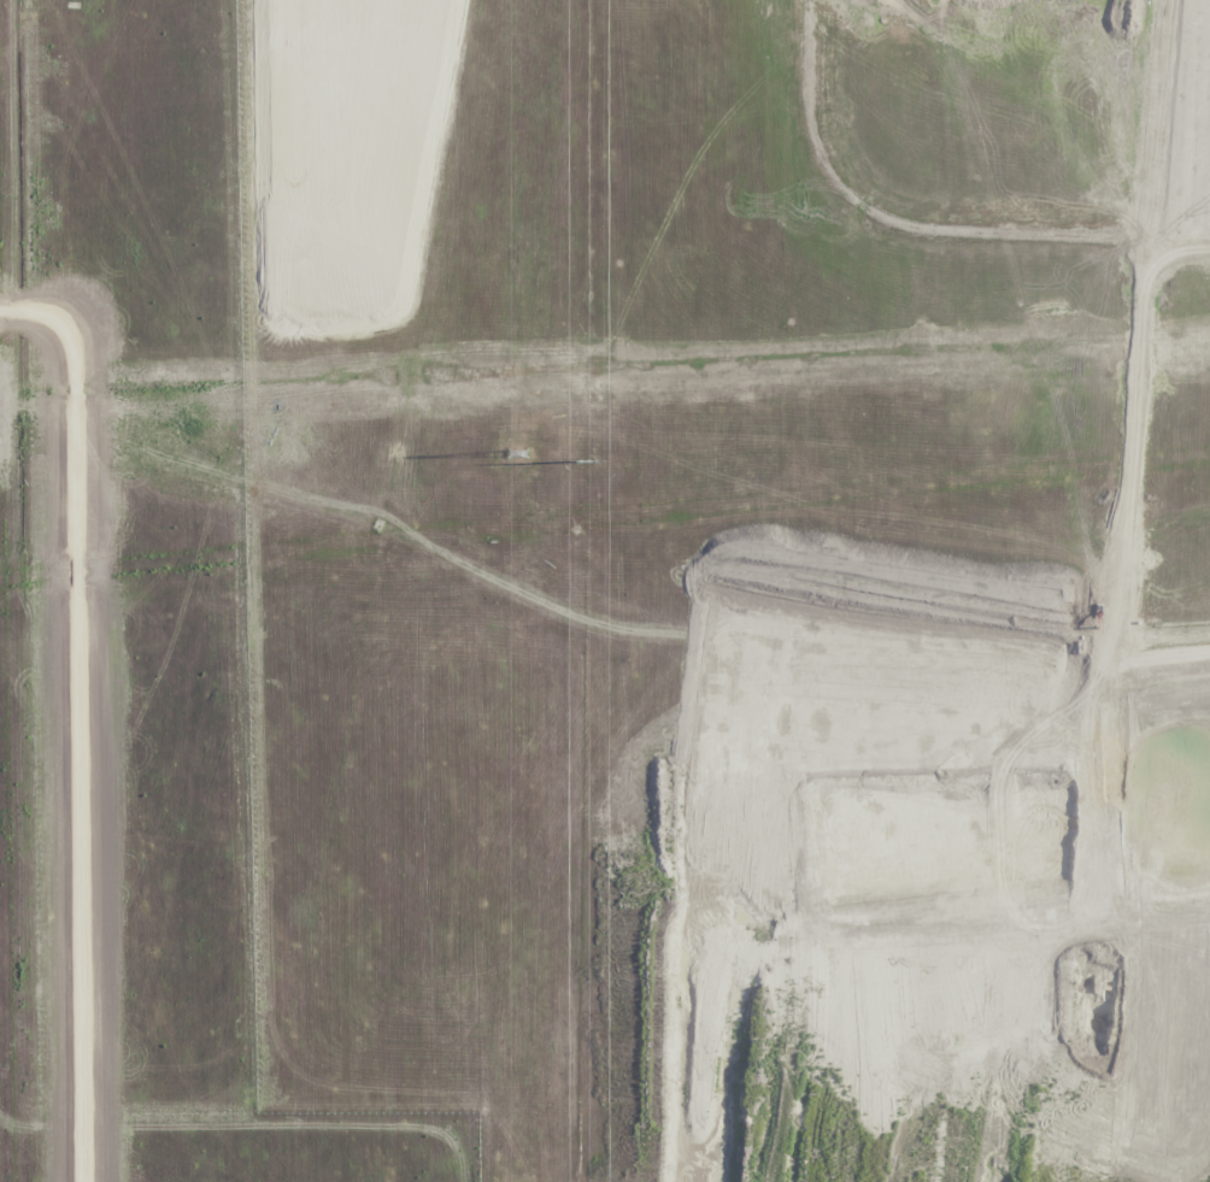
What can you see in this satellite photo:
power tower: (515, 453)
power tower: (585, 460)
crop: (605, 590)

